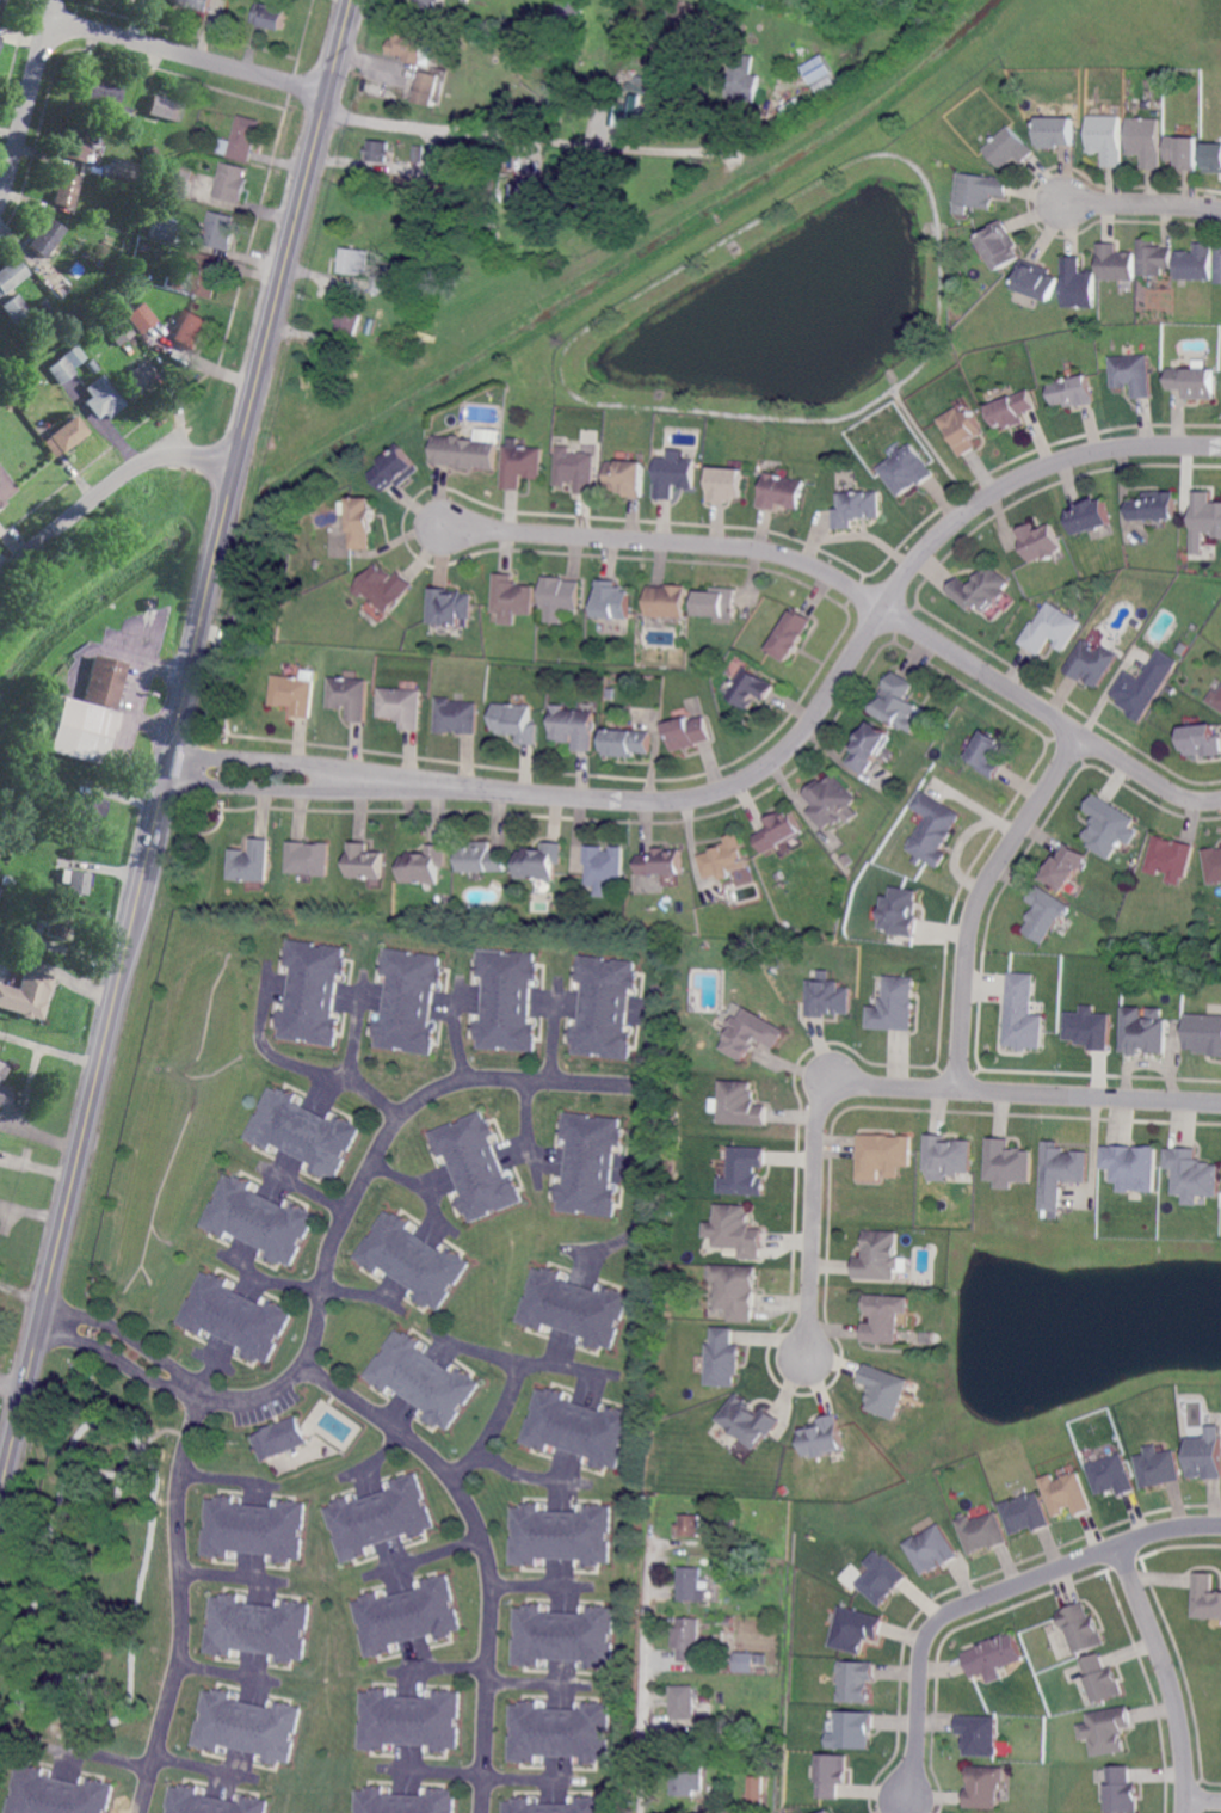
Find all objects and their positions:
building: (426, 2)
building: (1, 4)
building: (197, 4)
building: (759, 4)
building: (569, 10)
building: (859, 10)
building: (884, 11)
building: (271, 16)
road: (340, 38)
building: (481, 39)
building: (408, 45)
road: (187, 55)
building: (819, 72)
building: (744, 78)
building: (428, 87)
building: (100, 91)
building: (662, 96)
road: (26, 99)
building: (630, 102)
building: (164, 107)
building: (122, 110)
building: (203, 128)
building: (107, 131)
building: (1057, 131)
building: (246, 137)
road: (531, 137)
building: (1108, 139)
building: (1146, 140)
building: (78, 141)
building: (1010, 148)
building: (150, 149)
building: (376, 150)
building: (1184, 150)
building: (419, 153)
building: (1213, 155)
building: (122, 168)
building: (167, 168)
building: (234, 182)
building: (180, 185)
building: (66, 189)
building: (534, 189)
building: (981, 190)
building: (566, 191)
road: (1141, 208)
building: (156, 227)
building: (618, 228)
building: (221, 231)
building: (45, 236)
building: (999, 245)
building: (103, 247)
building: (1152, 258)
building: (353, 260)
building: (1114, 264)
building: (1194, 264)
building: (1217, 266)
building: (11, 274)
building: (208, 276)
building: (1035, 281)
building: (173, 283)
building: (382, 283)
building: (1075, 284)
building: (44, 303)
building: (14, 307)
building: (177, 308)
building: (138, 316)
building: (349, 319)
building: (119, 330)
building: (191, 330)
building: (420, 334)
building: (7, 357)
building: (47, 359)
building: (64, 365)
road: (260, 367)
building: (1130, 373)
building: (137, 380)
building: (1191, 380)
building: (1072, 389)
building: (4, 398)
building: (103, 398)
building: (1011, 407)
building: (961, 429)
building: (64, 436)
building: (468, 451)
building: (524, 463)
building: (578, 467)
building: (907, 467)
building: (396, 468)
building: (676, 474)
building: (628, 477)
building: (727, 483)
building: (5, 487)
road: (109, 488)
building: (782, 490)
building: (1154, 505)
building: (856, 506)
building: (1090, 516)
building: (1205, 517)
building: (364, 523)
building: (1040, 540)
building: (386, 588)
road: (858, 588)
building: (981, 589)
building: (563, 591)
building: (514, 594)
building: (615, 598)
building: (668, 600)
building: (719, 602)
building: (451, 607)
building: (1052, 629)
building: (791, 634)
building: (1092, 663)
building: (101, 680)
building: (751, 686)
building: (1145, 686)
road: (828, 690)
building: (294, 692)
building: (351, 696)
building: (898, 700)
building: (1215, 700)
building: (402, 705)
building: (458, 714)
building: (517, 719)
building: (575, 725)
building: (79, 730)
building: (689, 731)
building: (627, 740)
building: (1202, 740)
building: (870, 745)
building: (989, 754)
road: (275, 758)
road: (271, 788)
building: (831, 798)
building: (84, 812)
building: (1108, 828)
building: (779, 829)
building: (933, 829)
building: (309, 856)
building: (482, 856)
building: (724, 856)
building: (541, 859)
building: (660, 859)
building: (1170, 859)
building: (251, 860)
building: (364, 861)
building: (425, 864)
building: (1213, 866)
building: (605, 867)
building: (1063, 868)
building: (5, 879)
building: (78, 881)
road: (972, 901)
building: (901, 912)
building: (1044, 914)
building: (56, 926)
road: (132, 927)
building: (312, 990)
building: (25, 994)
building: (828, 997)
building: (506, 998)
building: (408, 1001)
building: (603, 1006)
building: (894, 1006)
building: (1022, 1015)
building: (1087, 1026)
building: (1145, 1032)
building: (751, 1034)
building: (1203, 1034)
road: (292, 1063)
building: (1, 1069)
road: (884, 1088)
building: (2, 1096)
building: (741, 1105)
road: (520, 1118)
building: (302, 1130)
building: (882, 1156)
building: (946, 1157)
building: (587, 1162)
building: (1006, 1163)
building: (475, 1164)
road: (370, 1166)
building: (1133, 1167)
road: (640, 1168)
building: (745, 1172)
building: (1060, 1175)
building: (1192, 1175)
road: (32, 1206)
building: (259, 1218)
building: (735, 1231)
building: (877, 1258)
building: (412, 1260)
road: (53, 1274)
road: (23, 1290)
building: (736, 1290)
road: (357, 1291)
building: (572, 1307)
building: (235, 1315)
building: (884, 1319)
building: (925, 1338)
road: (125, 1348)
road: (476, 1350)
building: (722, 1359)
building: (421, 1379)
road: (13, 1383)
road: (514, 1385)
building: (884, 1391)
building: (748, 1421)
building: (575, 1426)
road: (17, 1427)
building: (279, 1437)
building: (821, 1438)
building: (1205, 1457)
building: (1158, 1468)
road: (522, 1474)
building: (1112, 1476)
building: (1066, 1494)
building: (1025, 1514)
building: (378, 1518)
building: (723, 1520)
building: (692, 1524)
building: (254, 1529)
building: (982, 1532)
building: (559, 1534)
road: (485, 1549)
building: (932, 1550)
building: (740, 1562)
building: (723, 1563)
road: (233, 1574)
building: (881, 1581)
road: (529, 1584)
building: (692, 1584)
road: (988, 1593)
building: (1205, 1597)
road: (181, 1604)
building: (406, 1616)
building: (727, 1618)
building: (258, 1628)
building: (1083, 1628)
building: (855, 1630)
building: (562, 1636)
building: (686, 1636)
building: (993, 1655)
building: (760, 1659)
road: (444, 1665)
building: (761, 1671)
road: (643, 1672)
road: (1165, 1676)
road: (529, 1680)
building: (1102, 1680)
building: (856, 1682)
building: (685, 1701)
building: (408, 1720)
building: (247, 1727)
building: (852, 1731)
building: (1108, 1731)
building: (557, 1732)
building: (979, 1735)
building: (769, 1743)
road: (103, 1753)
building: (770, 1759)
road: (197, 1765)
road: (479, 1774)
building: (832, 1775)
building: (689, 1781)
building: (985, 1787)
building: (1122, 1790)
building: (57, 1794)
building: (754, 1794)
road: (1204, 1797)
building: (405, 1801)
building: (211, 1802)
building: (553, 1806)
building: (826, 1812)

